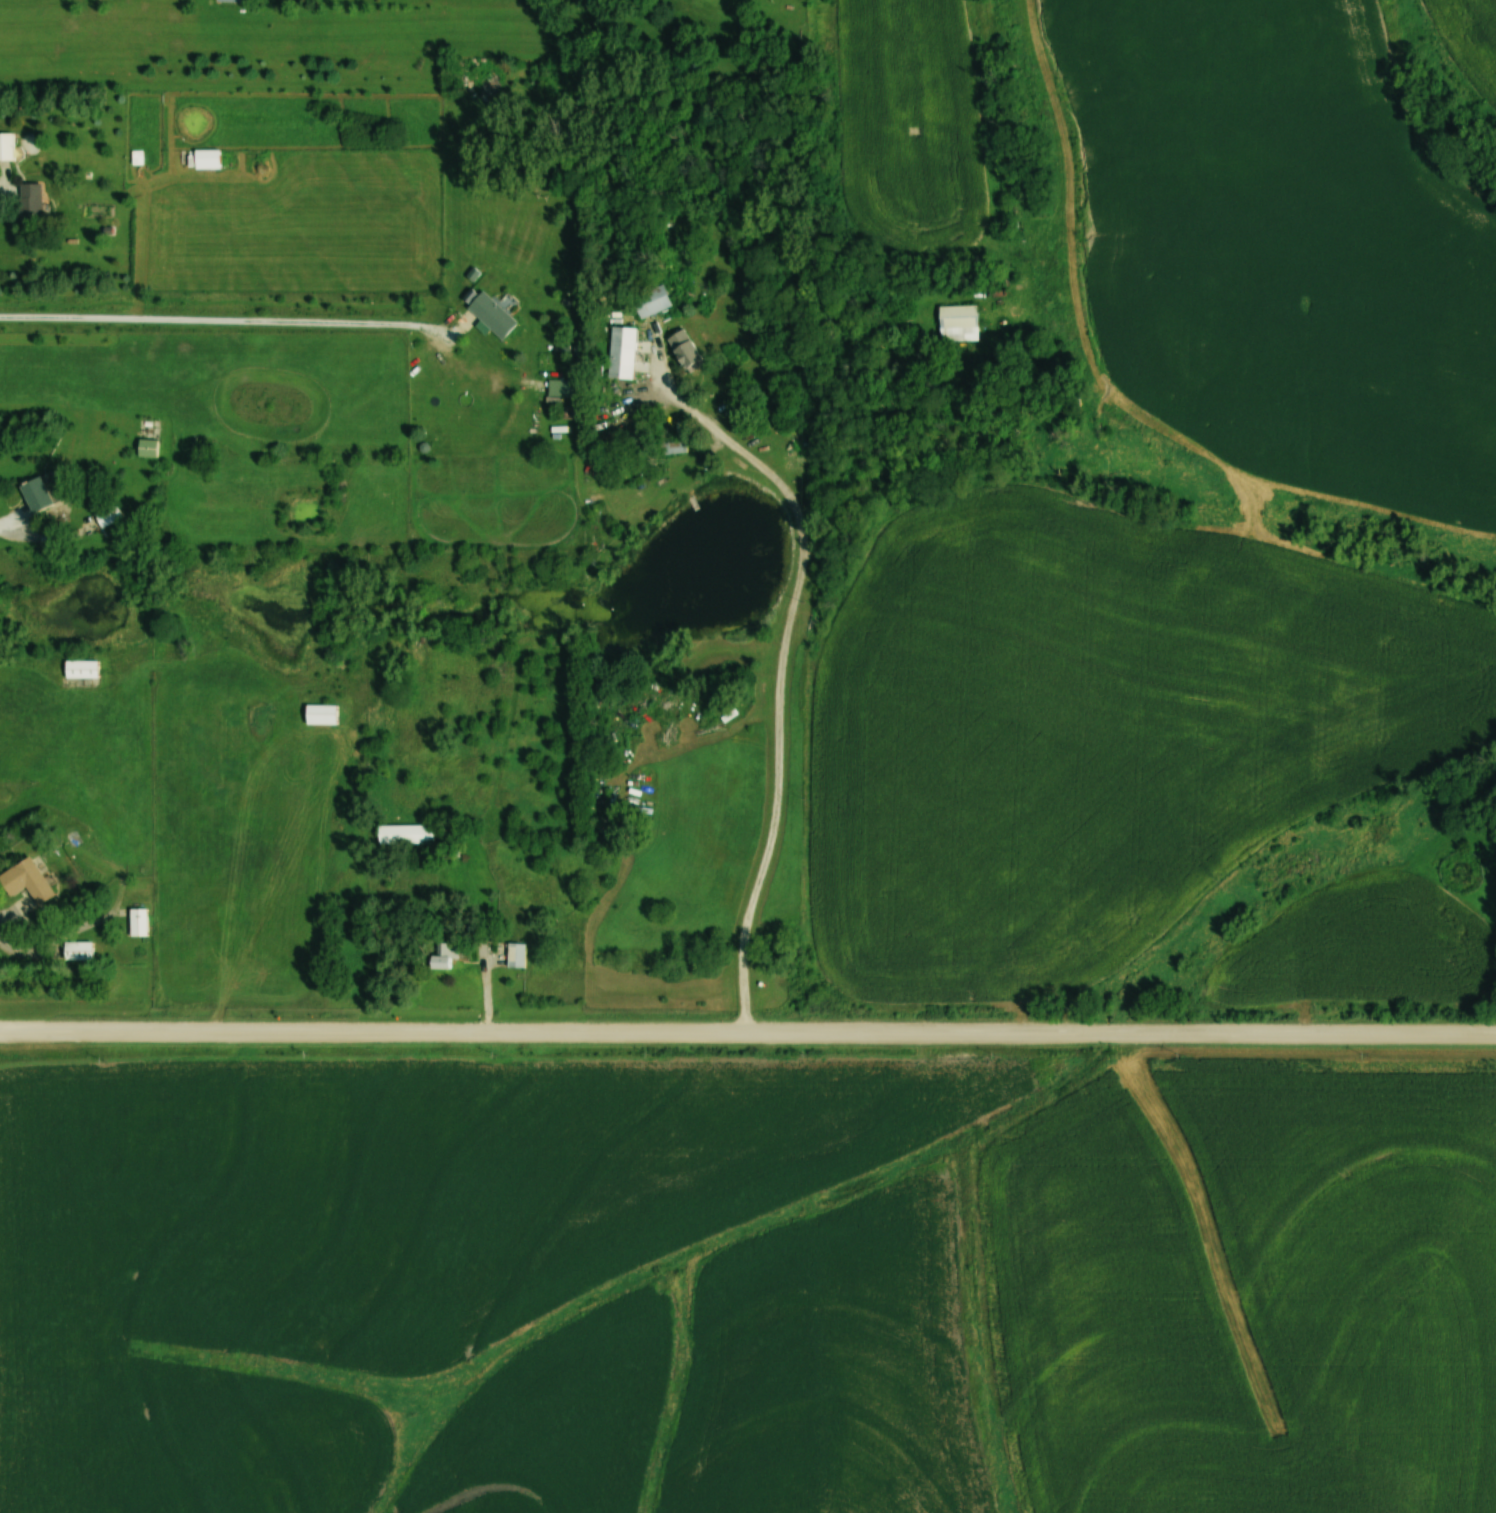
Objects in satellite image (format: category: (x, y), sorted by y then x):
building: (229, 0)
building: (6, 146)
building: (205, 159)
building: (29, 203)
building: (653, 301)
building: (490, 313)
road: (228, 321)
building: (957, 322)
building: (684, 350)
building: (621, 352)
building: (563, 387)
building: (146, 448)
building: (36, 493)
building: (106, 514)
building: (80, 669)
road: (779, 679)
building: (319, 714)
building: (404, 834)
building: (25, 880)
building: (136, 921)
building: (77, 950)
building: (443, 955)
building: (515, 955)
road: (748, 1033)

